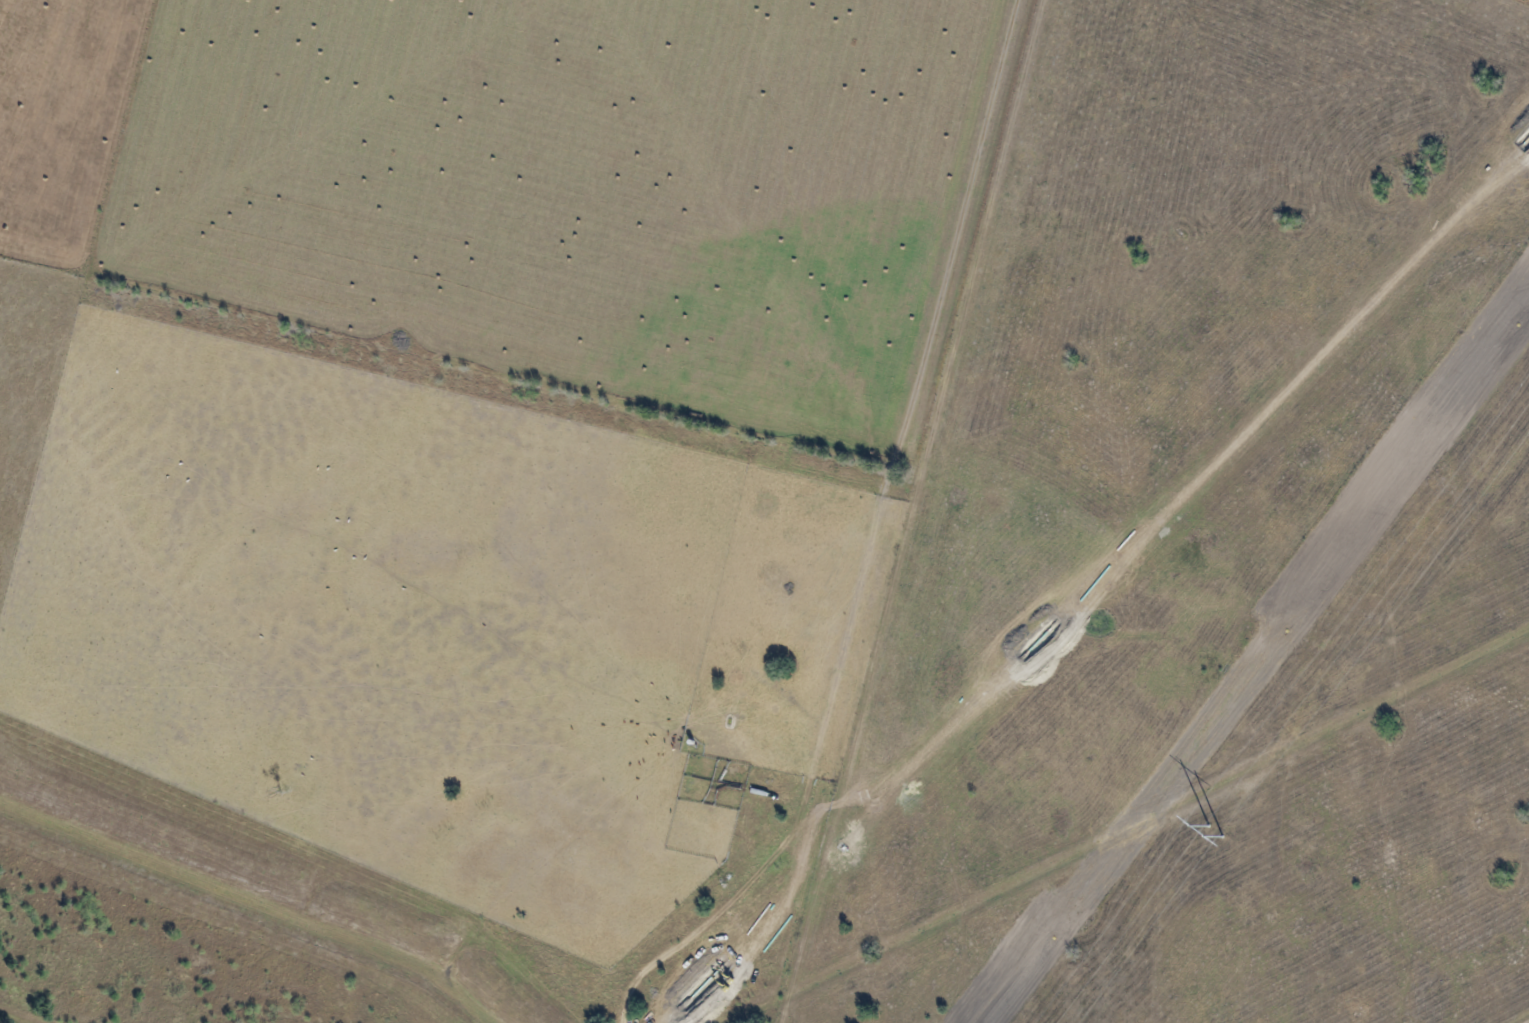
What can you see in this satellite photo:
power tower: (1226, 824)

